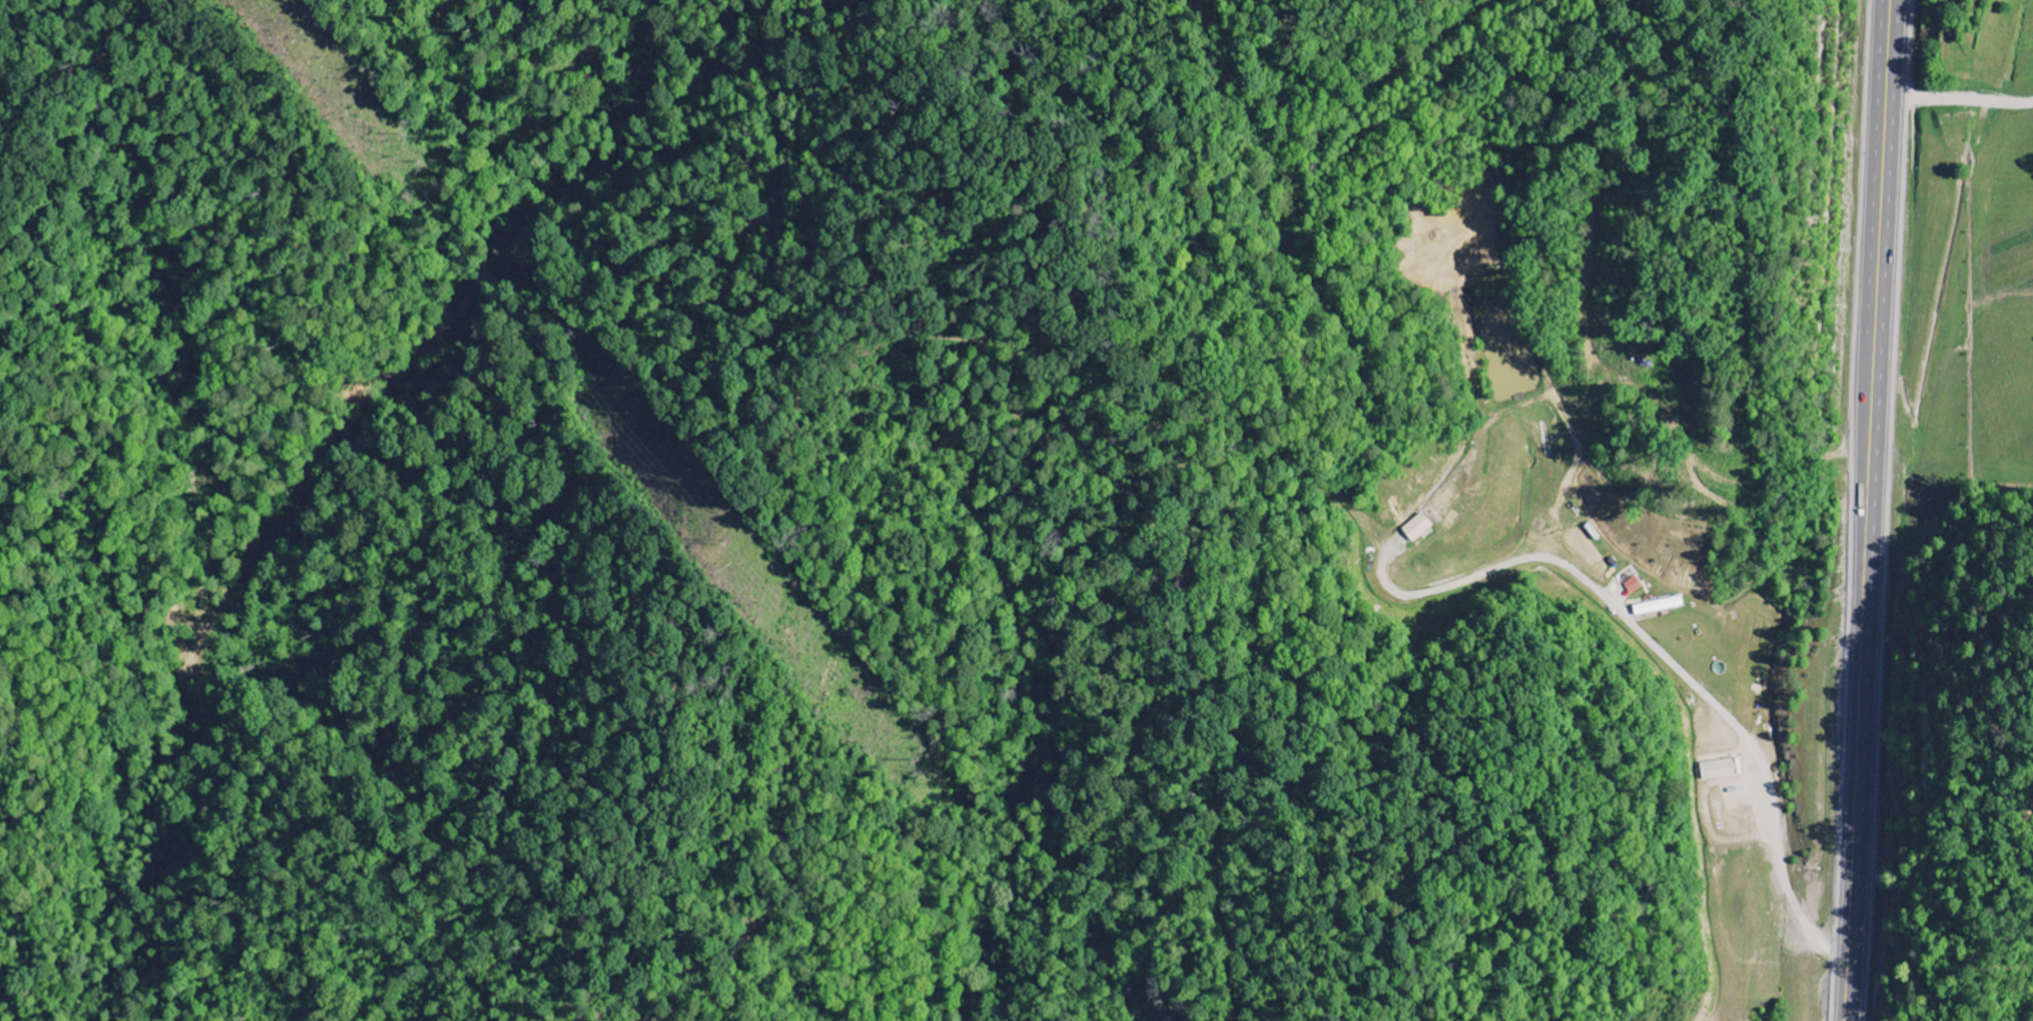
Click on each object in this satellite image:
road: (1960, 98)
road: (1874, 382)
building: (1417, 528)
power tower: (722, 544)
building: (1631, 584)
building: (1656, 606)
road: (1664, 656)
building: (1717, 769)
road: (1853, 893)

